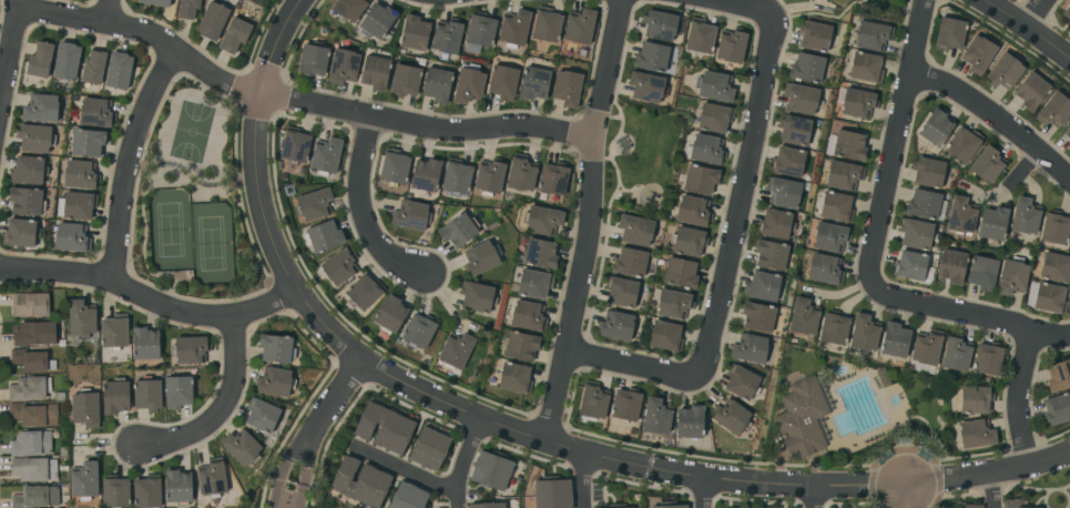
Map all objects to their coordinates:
building: (156, 2)
road: (738, 4)
building: (349, 8)
building: (187, 9)
road: (108, 10)
building: (1067, 12)
road: (1040, 14)
building: (212, 20)
building: (377, 21)
building: (547, 24)
building: (660, 24)
building: (580, 26)
road: (1026, 27)
building: (514, 29)
building: (480, 30)
building: (414, 33)
building: (949, 33)
building: (234, 35)
building: (700, 35)
building: (814, 35)
building: (873, 35)
building: (447, 37)
road: (921, 37)
road: (9, 44)
building: (731, 45)
building: (471, 50)
building: (582, 51)
building: (978, 54)
building: (651, 57)
building: (313, 59)
building: (40, 60)
building: (67, 60)
building: (343, 65)
building: (93, 67)
building: (806, 68)
building: (866, 68)
building: (118, 70)
building: (1005, 71)
building: (376, 72)
building: (405, 80)
building: (502, 82)
building: (468, 83)
building: (534, 83)
road: (263, 84)
building: (437, 84)
building: (645, 87)
building: (715, 87)
building: (567, 88)
building: (1031, 91)
building: (801, 98)
road: (297, 101)
building: (858, 103)
building: (41, 108)
building: (1053, 110)
building: (95, 112)
building: (714, 118)
building: (936, 128)
building: (794, 130)
building: (1067, 132)
building: (34, 138)
building: (86, 142)
building: (962, 144)
building: (1069, 144)
building: (295, 145)
building: (849, 145)
building: (706, 149)
building: (326, 155)
road: (131, 161)
building: (787, 162)
building: (988, 164)
building: (394, 167)
building: (28, 170)
building: (303, 171)
building: (928, 172)
building: (521, 173)
building: (80, 174)
building: (426, 174)
building: (843, 175)
building: (457, 176)
building: (489, 176)
building: (553, 179)
building: (700, 179)
road: (893, 184)
building: (288, 191)
building: (783, 192)
road: (735, 193)
building: (425, 194)
building: (26, 201)
building: (314, 204)
building: (924, 204)
building: (77, 205)
building: (836, 206)
road: (360, 210)
building: (693, 211)
building: (410, 215)
building: (960, 215)
building: (1025, 216)
building: (542, 221)
road: (589, 221)
building: (992, 223)
building: (775, 224)
building: (1054, 228)
building: (458, 230)
building: (635, 230)
building: (20, 233)
building: (916, 234)
building: (323, 236)
building: (71, 237)
building: (830, 237)
building: (687, 242)
building: (540, 253)
building: (771, 254)
building: (481, 257)
building: (630, 262)
building: (910, 265)
building: (339, 266)
building: (951, 266)
building: (1054, 267)
building: (825, 268)
building: (681, 273)
building: (982, 273)
building: (1012, 276)
building: (534, 284)
building: (762, 286)
building: (364, 292)
building: (621, 292)
building: (477, 297)
road: (149, 298)
building: (1049, 298)
building: (30, 304)
building: (673, 304)
building: (389, 314)
building: (528, 315)
building: (757, 316)
building: (803, 316)
building: (81, 318)
building: (615, 325)
building: (834, 328)
building: (418, 331)
building: (114, 332)
building: (864, 333)
building: (35, 334)
building: (665, 336)
building: (895, 341)
building: (145, 343)
building: (521, 345)
building: (926, 347)
building: (276, 348)
building: (750, 348)
building: (190, 349)
building: (456, 350)
building: (956, 354)
building: (987, 358)
building: (31, 360)
road: (635, 363)
building: (1058, 376)
building: (514, 378)
building: (883, 378)
building: (275, 382)
building: (741, 382)
building: (29, 388)
building: (177, 392)
building: (146, 394)
building: (114, 396)
road: (1017, 396)
road: (333, 397)
building: (975, 399)
building: (593, 400)
building: (625, 405)
building: (84, 408)
road: (221, 408)
building: (1057, 408)
building: (33, 414)
building: (261, 415)
building: (656, 416)
building: (731, 416)
building: (802, 418)
building: (690, 421)
building: (384, 427)
building: (976, 434)
building: (30, 444)
building: (242, 447)
building: (429, 448)
road: (601, 455)
road: (466, 461)
building: (33, 469)
building: (491, 469)
road: (285, 470)
road: (297, 473)
road: (412, 473)
building: (211, 478)
road: (588, 479)
building: (84, 480)
building: (360, 482)
building: (177, 487)
road: (990, 490)
building: (115, 491)
building: (146, 491)
building: (552, 492)
road: (704, 492)
road: (894, 496)
road: (915, 496)
building: (34, 497)
building: (408, 497)
road: (813, 497)
building: (1011, 504)
building: (487, 505)
building: (669, 505)
building: (615, 506)
building: (972, 506)
building: (628, 507)
building: (1035, 507)

